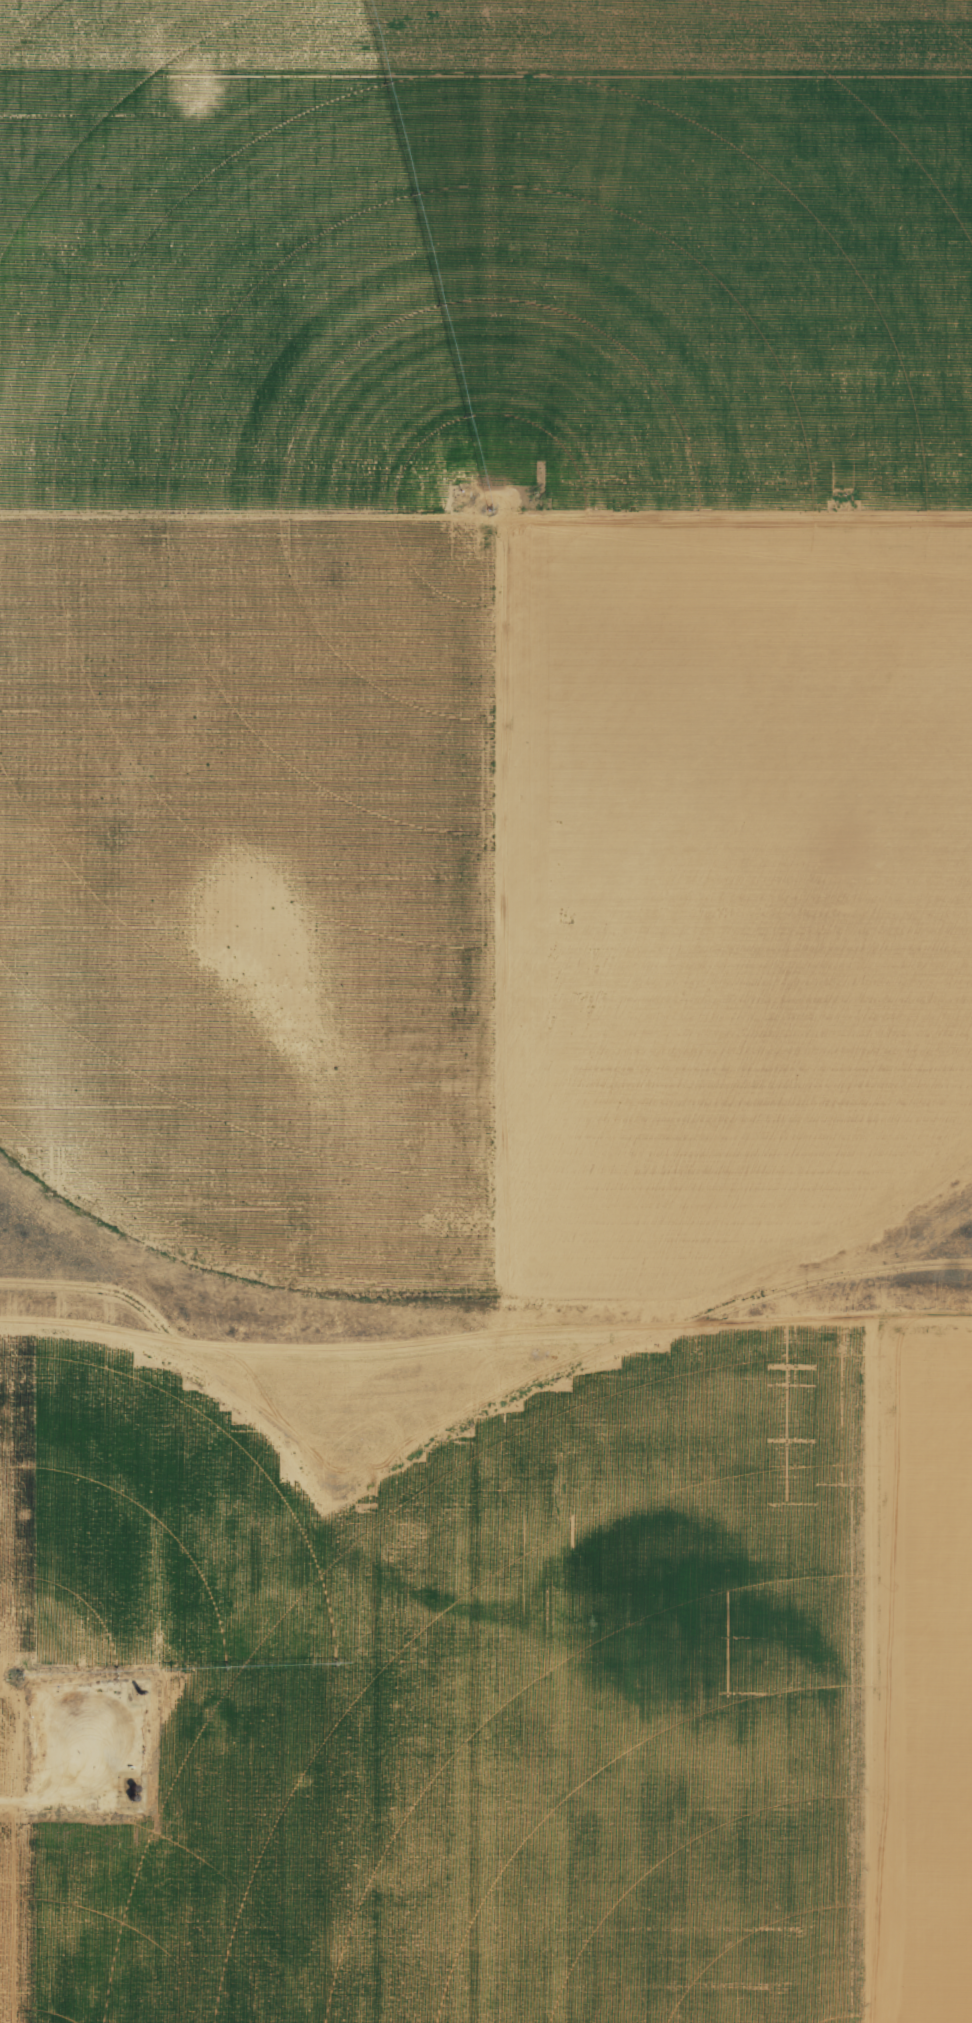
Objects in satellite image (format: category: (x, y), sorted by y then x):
road: (36, 1811)

